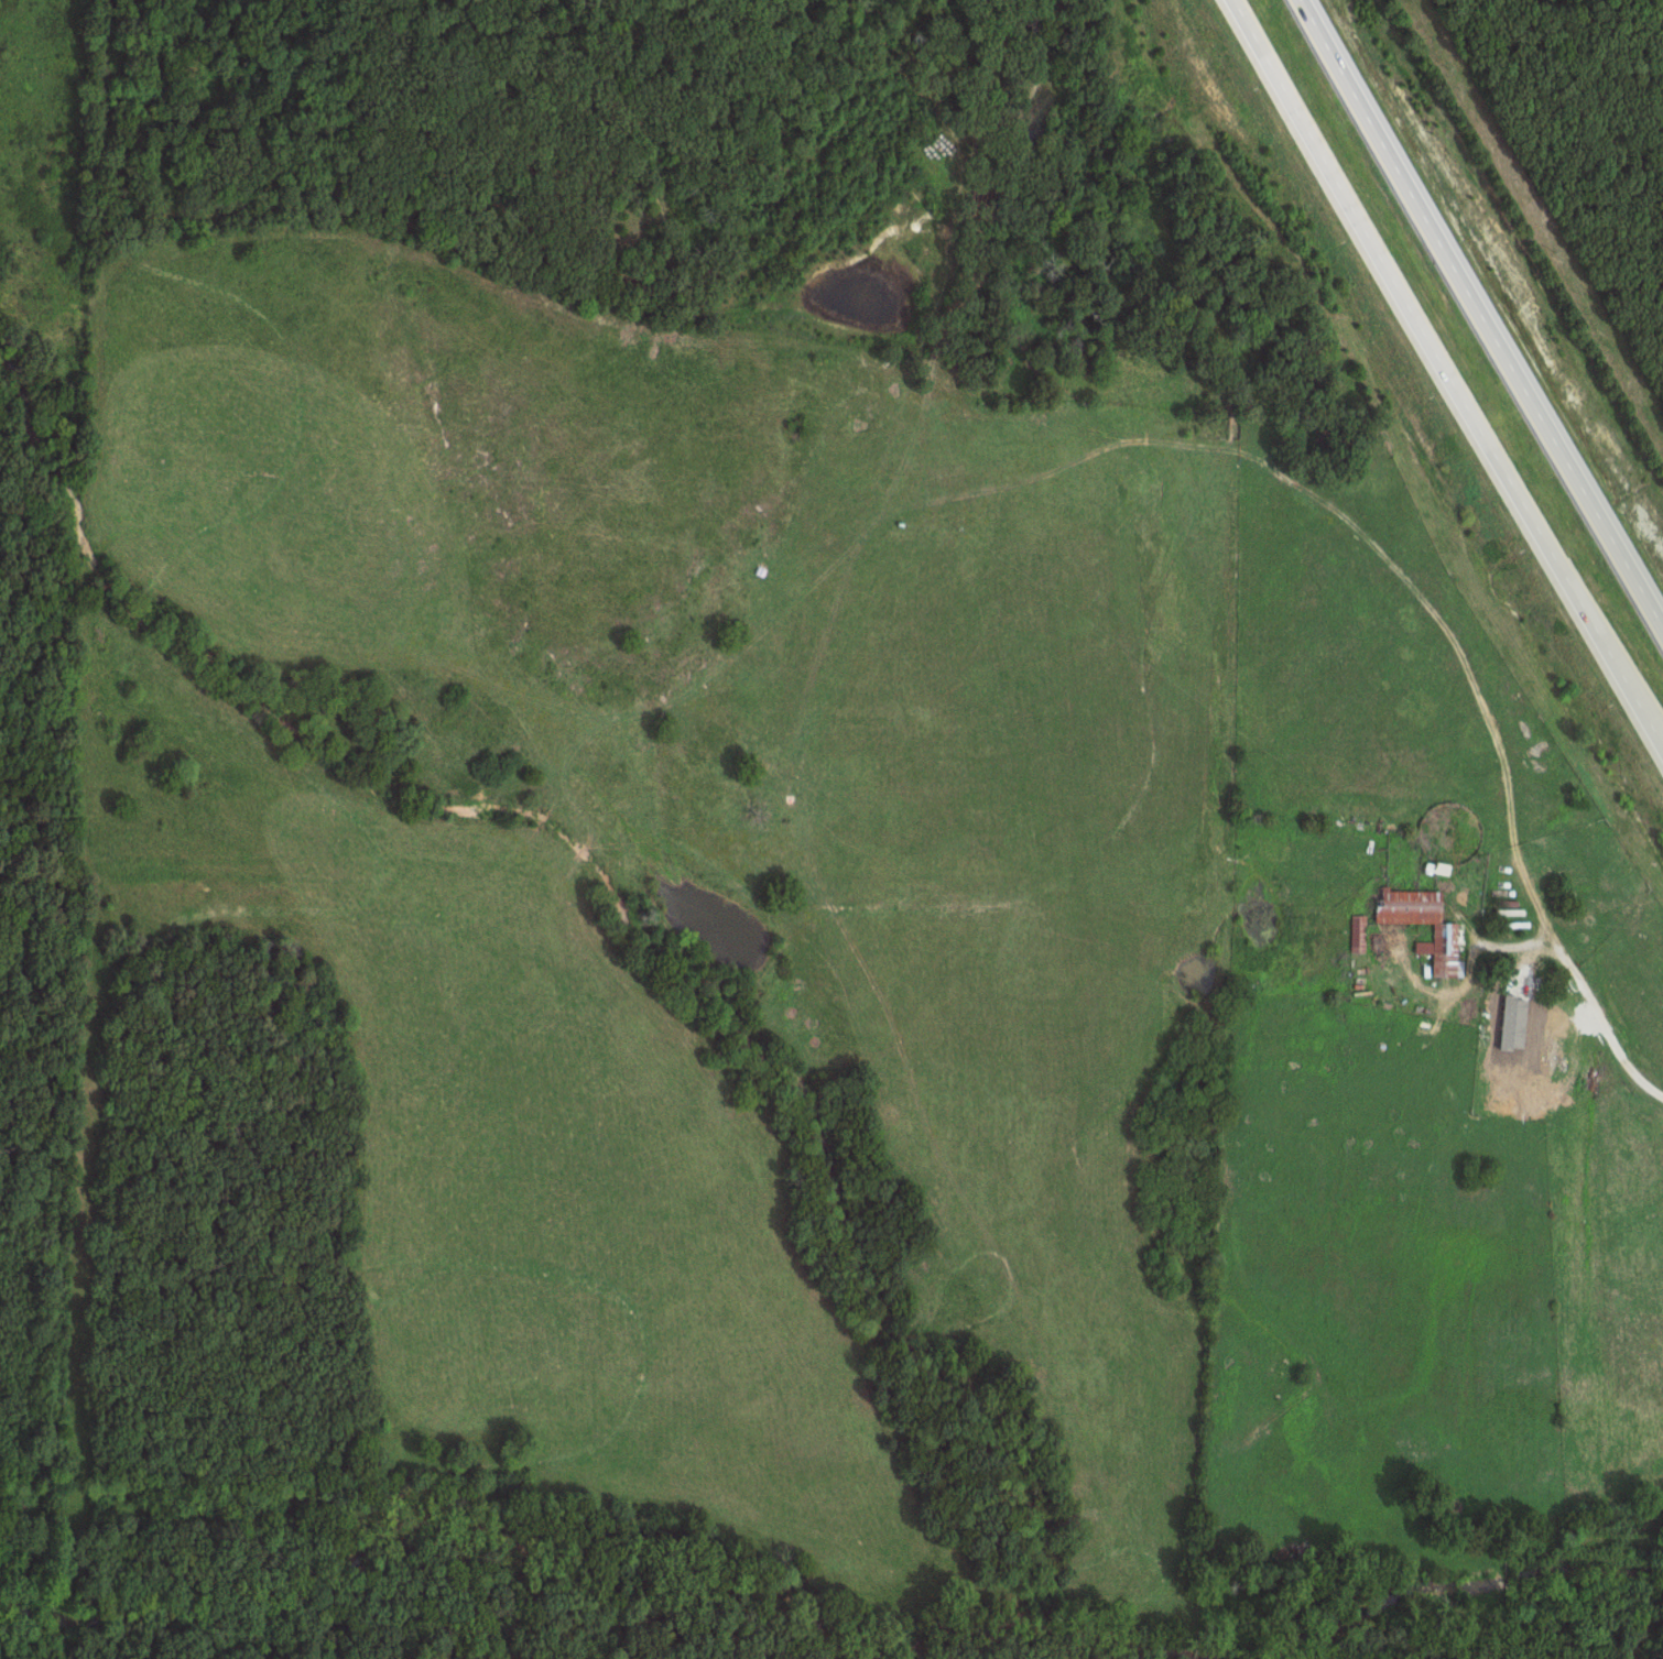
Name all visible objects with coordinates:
road: (1483, 309)
road: (1457, 358)
building: (1444, 869)
building: (1449, 932)
building: (1360, 934)
road: (1574, 995)
building: (1517, 1008)
building: (1551, 1065)

